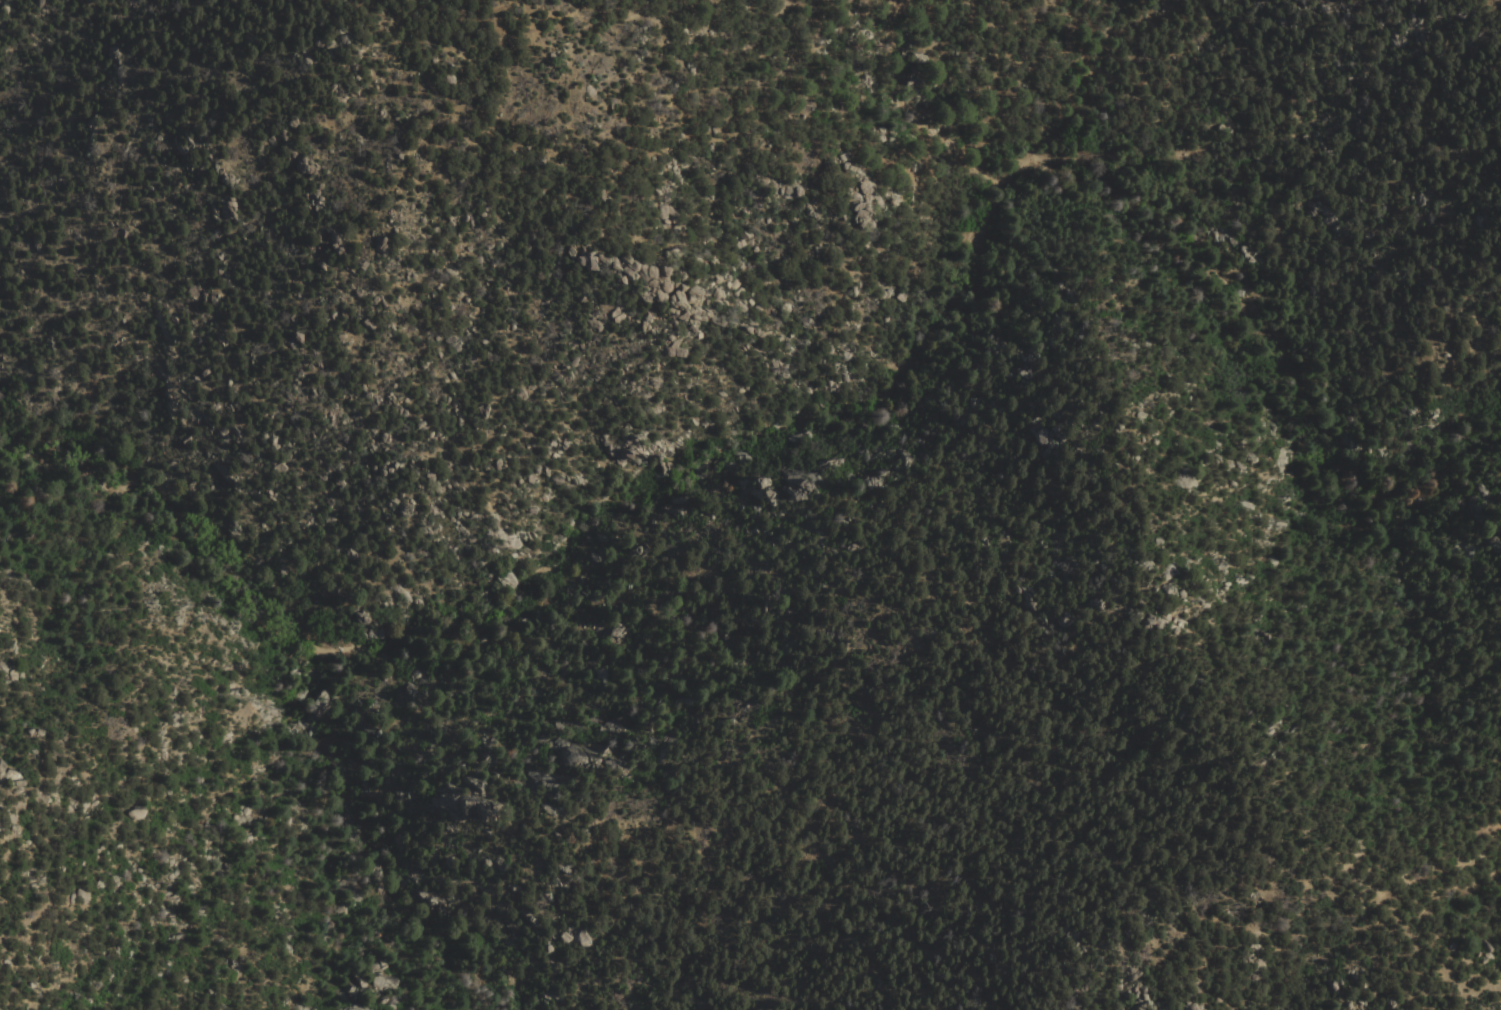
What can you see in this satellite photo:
road: (538, 31)
road: (1223, 273)
road: (589, 531)

